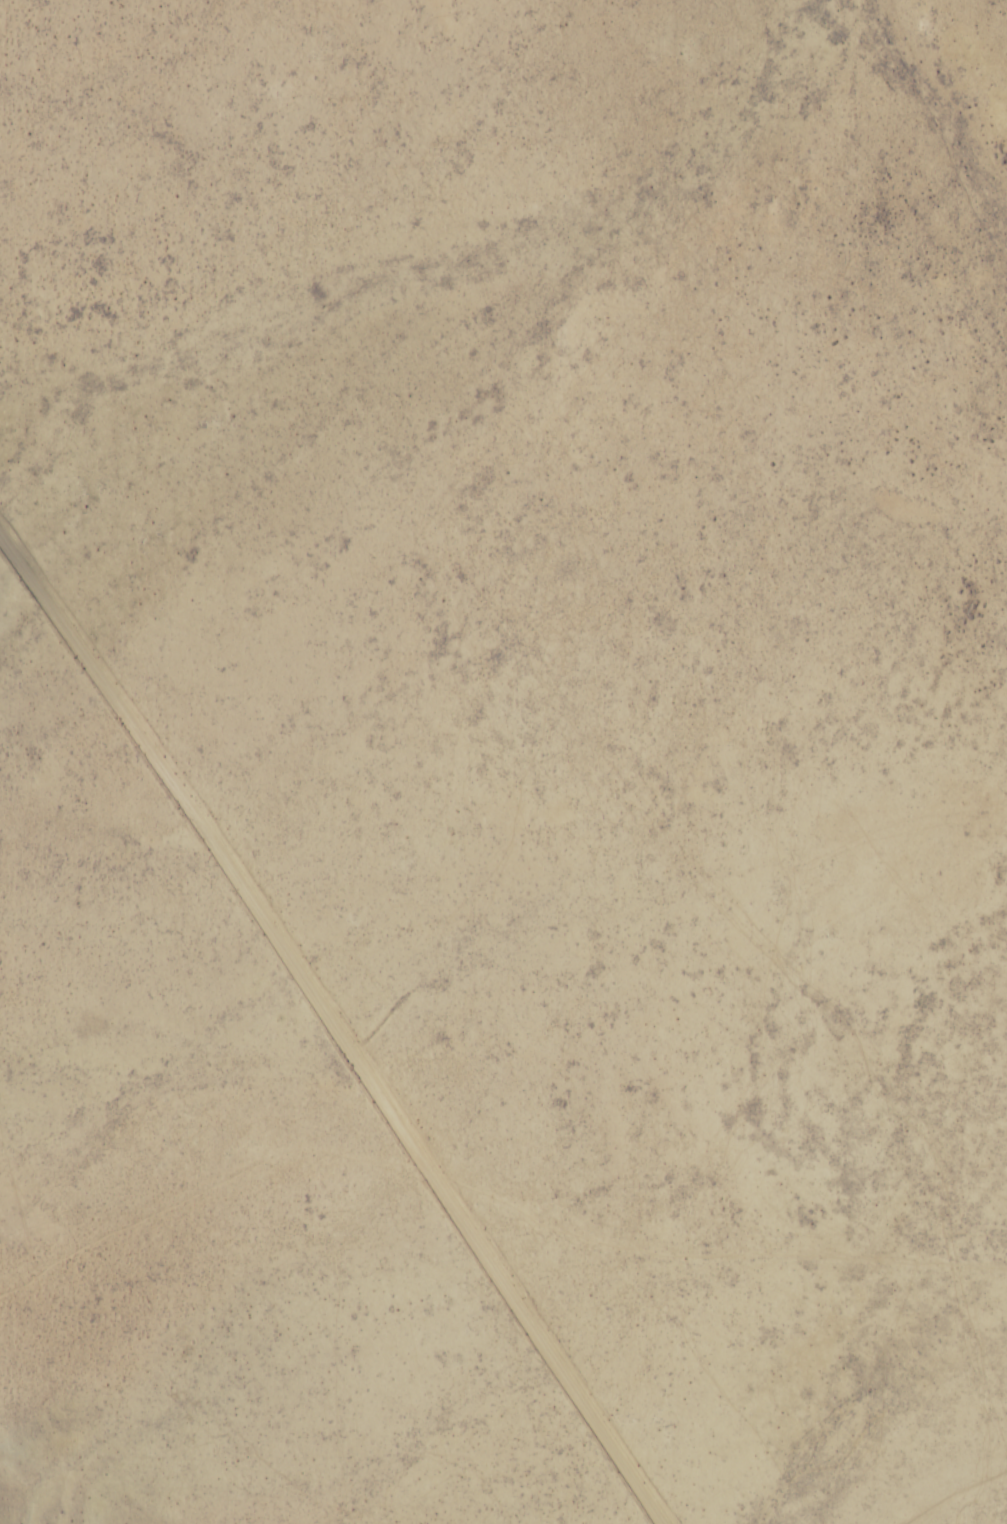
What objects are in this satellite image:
road: (346, 1038)

